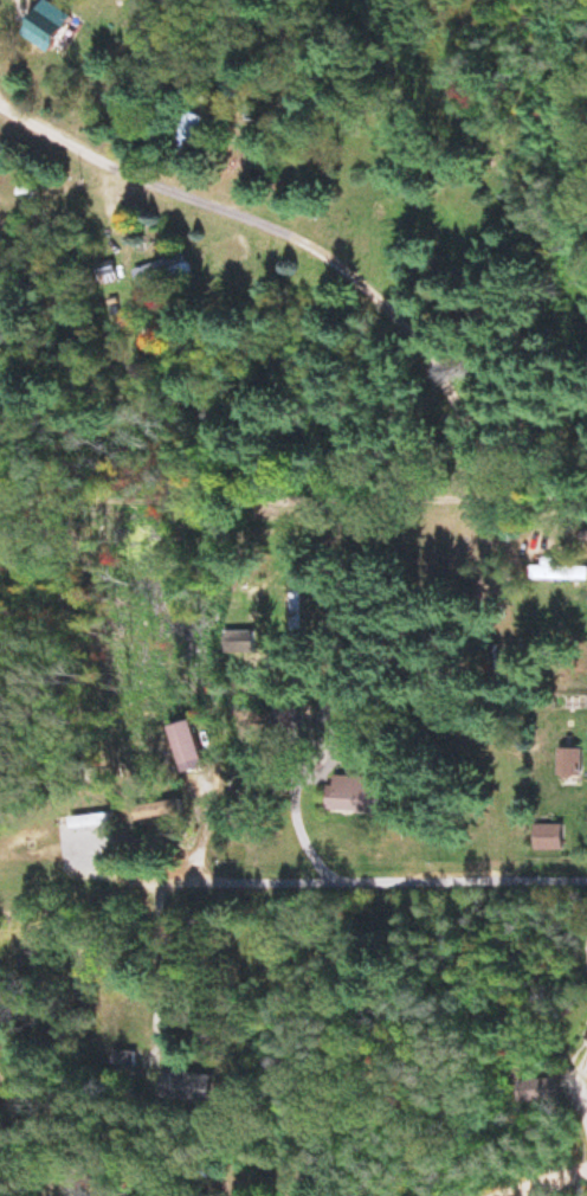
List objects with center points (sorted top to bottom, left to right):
building: (50, 26)
building: (183, 134)
road: (293, 223)
building: (176, 272)
building: (103, 277)
road: (38, 296)
road: (292, 502)
building: (582, 536)
building: (557, 573)
building: (237, 644)
building: (489, 661)
building: (181, 752)
building: (567, 765)
building: (348, 799)
building: (155, 814)
building: (546, 840)
road: (381, 882)
building: (586, 1034)
building: (121, 1061)
building: (182, 1089)
building: (535, 1094)
road: (52, 1153)
road: (565, 1188)

